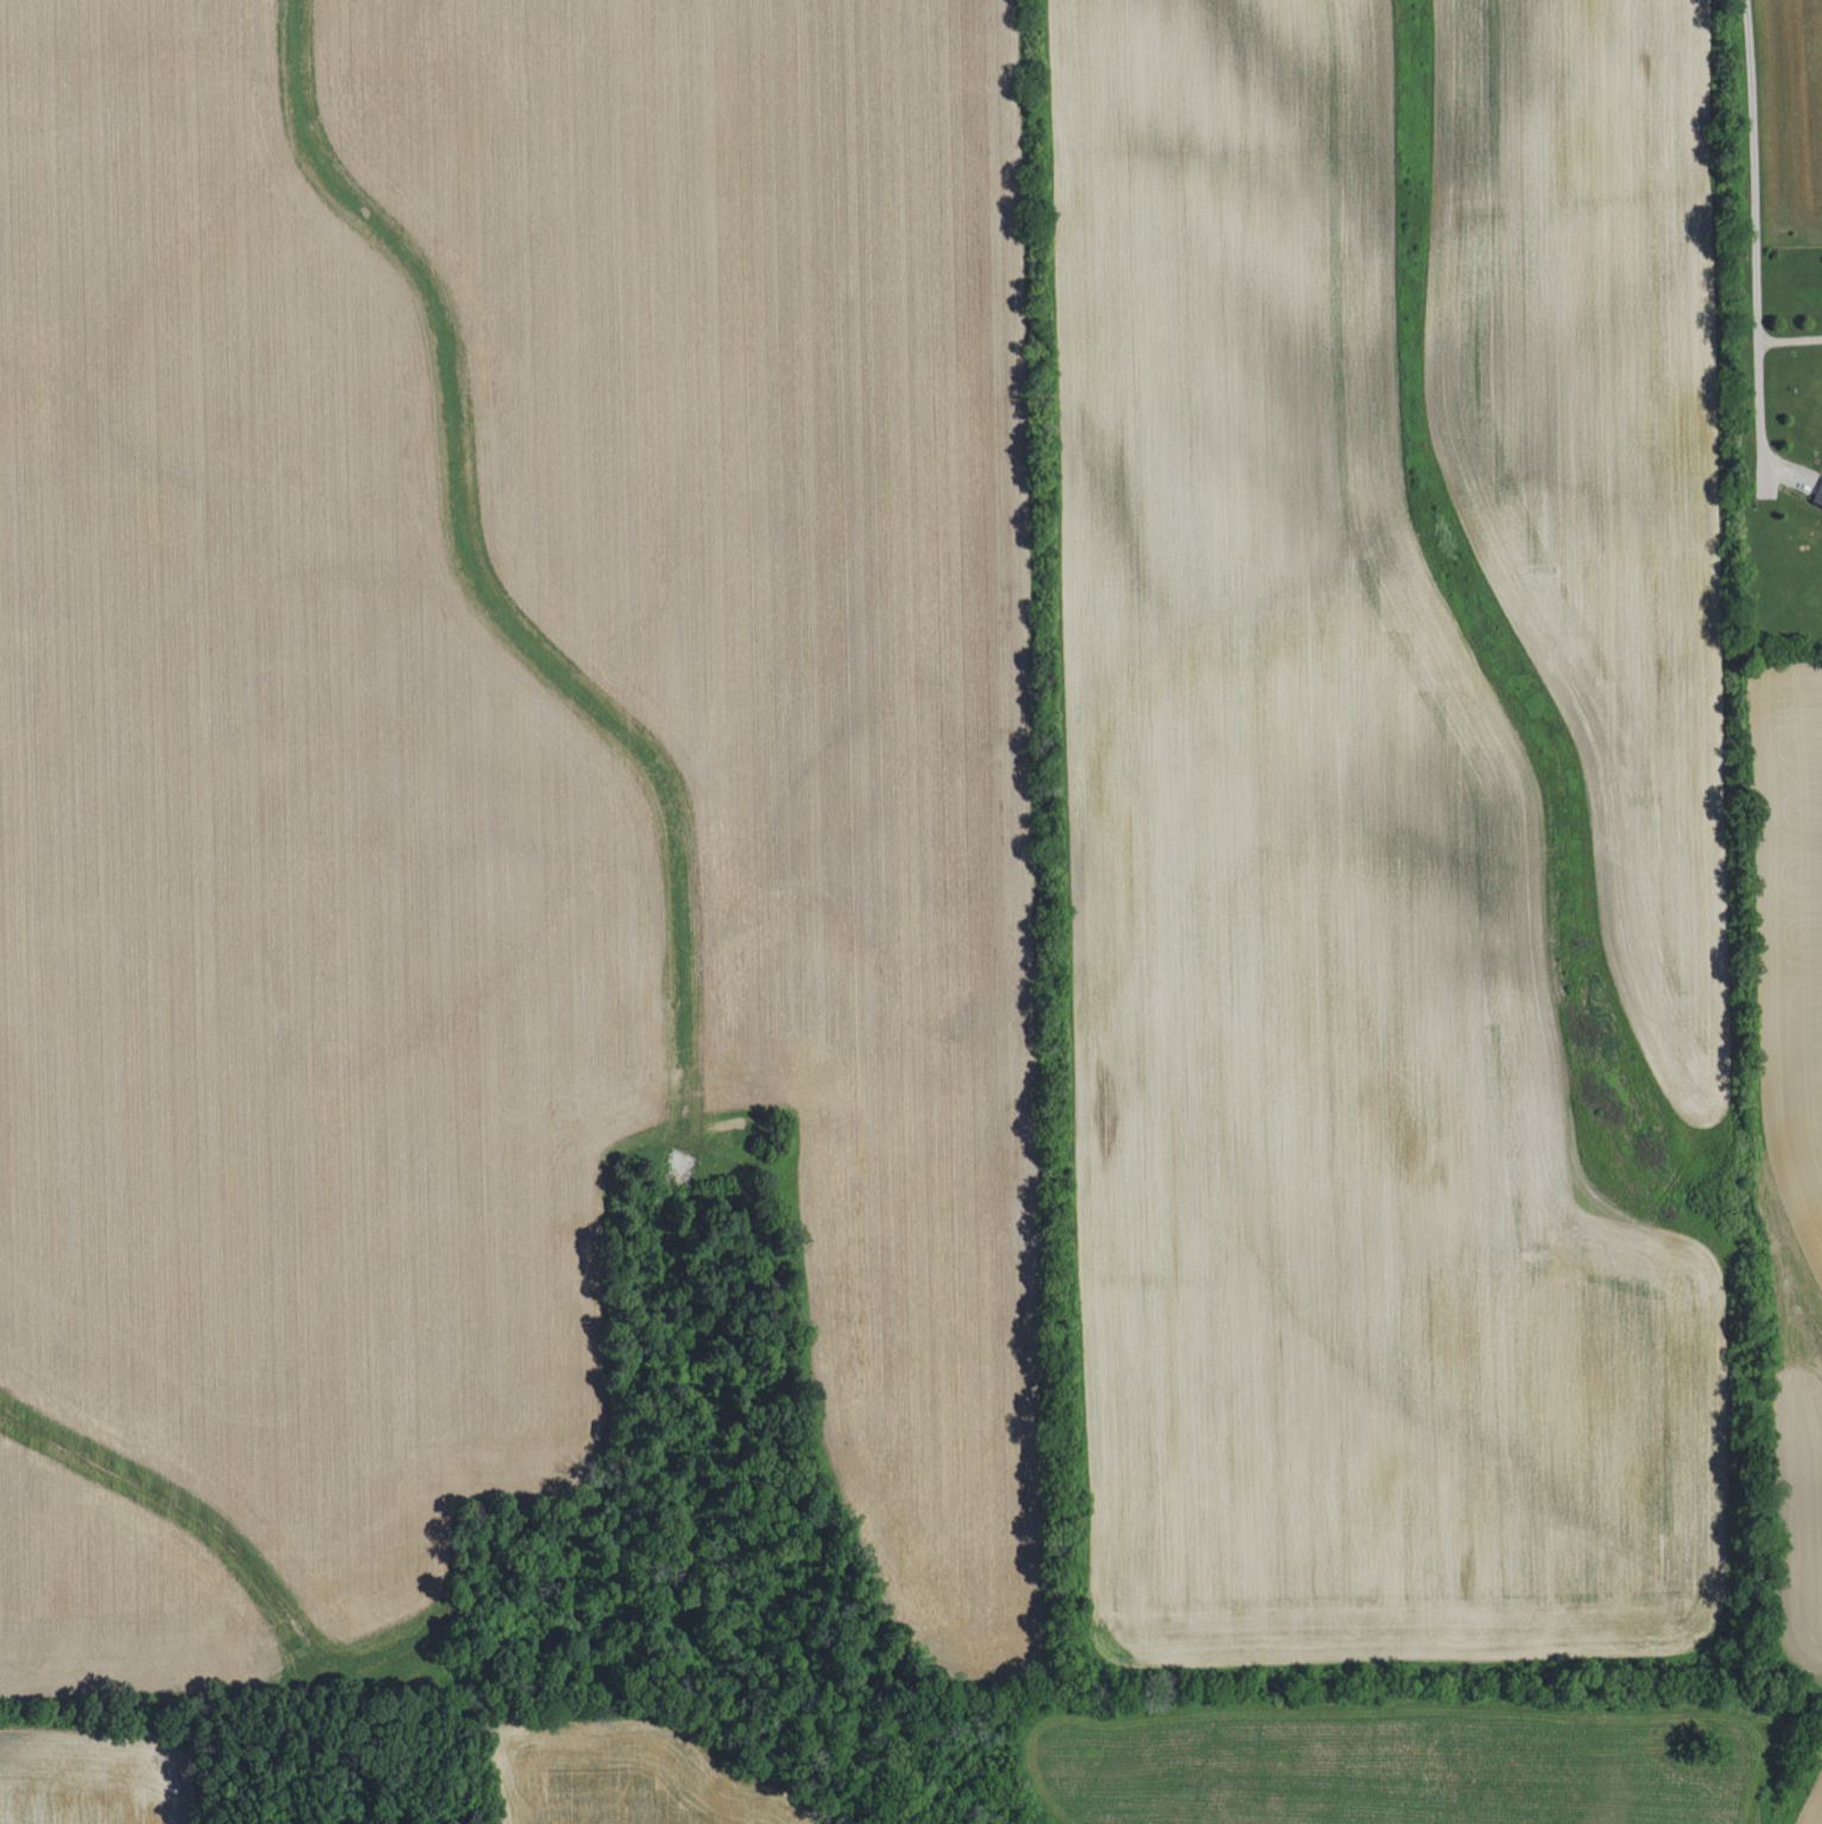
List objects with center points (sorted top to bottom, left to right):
road: (1754, 230)

